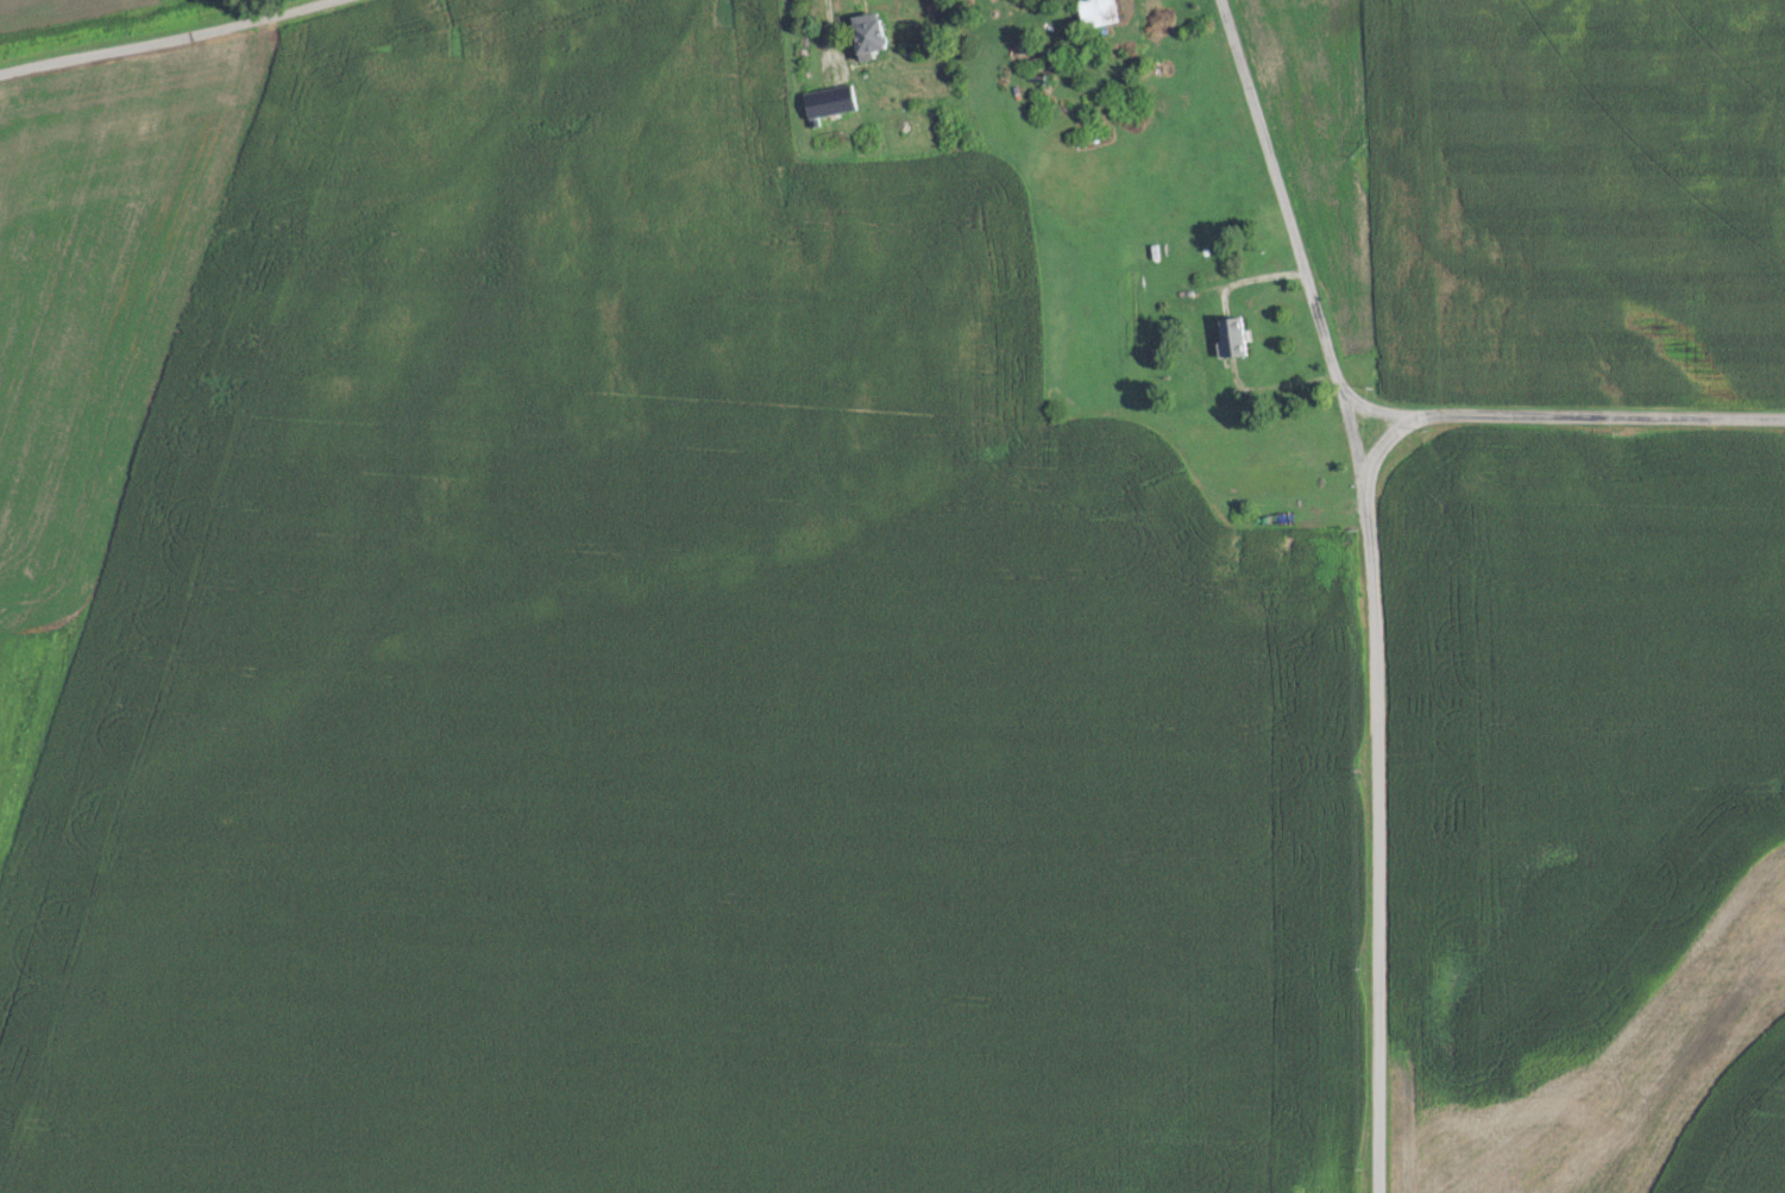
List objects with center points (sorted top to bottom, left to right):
building: (1095, 12)
building: (868, 33)
road: (165, 40)
building: (828, 100)
road: (1280, 201)
building: (1232, 335)
road: (1375, 408)
road: (1596, 415)
road: (1351, 438)
road: (1383, 444)
road: (1375, 833)

